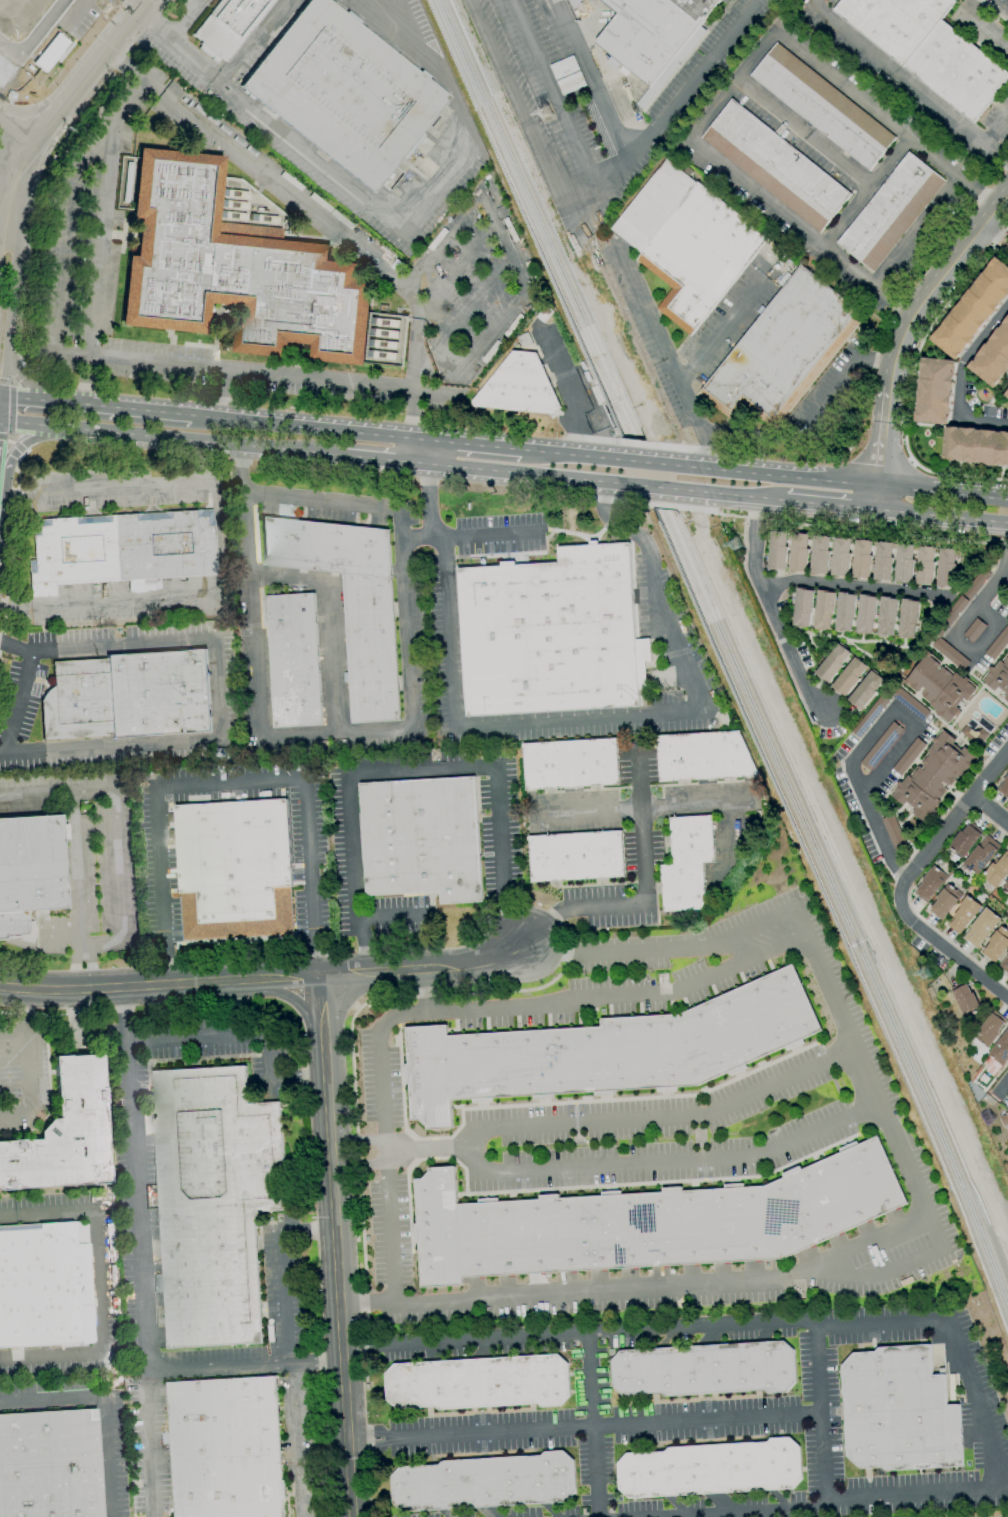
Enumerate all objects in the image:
building: (561, 0)
road: (1007, 0)
building: (571, 3)
road: (140, 4)
road: (992, 11)
road: (982, 23)
building: (230, 25)
road: (174, 32)
building: (651, 33)
road: (50, 34)
road: (251, 40)
building: (928, 49)
road: (12, 57)
road: (94, 70)
road: (591, 81)
road: (911, 83)
road: (733, 87)
building: (344, 92)
railway: (486, 94)
railway: (475, 96)
road: (556, 98)
road: (519, 105)
power tower: (545, 106)
building: (823, 107)
road: (667, 113)
road: (886, 120)
road: (18, 130)
road: (207, 132)
road: (804, 133)
road: (995, 152)
road: (43, 166)
building: (775, 166)
road: (13, 183)
road: (6, 187)
road: (865, 192)
road: (395, 208)
building: (890, 212)
road: (449, 228)
road: (801, 229)
road: (915, 232)
road: (994, 238)
road: (4, 239)
building: (687, 243)
road: (507, 250)
road: (457, 268)
building: (234, 270)
road: (936, 283)
road: (475, 296)
road: (422, 305)
building: (972, 310)
road: (11, 314)
building: (543, 314)
road: (495, 326)
building: (385, 330)
road: (717, 332)
building: (524, 340)
road: (443, 347)
building: (782, 350)
road: (966, 355)
building: (992, 357)
road: (667, 359)
road: (249, 370)
road: (911, 379)
road: (22, 380)
road: (5, 382)
building: (519, 387)
building: (935, 391)
road: (570, 393)
building: (1007, 395)
road: (1, 396)
traffic signals: (2, 397)
road: (992, 397)
road: (102, 407)
road: (1, 409)
road: (12, 410)
road: (807, 417)
road: (984, 421)
traffic signals: (0, 422)
road: (310, 427)
road: (880, 435)
road: (5, 437)
road: (155, 439)
road: (468, 443)
road: (21, 446)
building: (976, 446)
road: (574, 454)
railway: (646, 455)
railway: (635, 459)
road: (366, 461)
road: (643, 462)
road: (530, 475)
road: (832, 481)
road: (201, 483)
road: (423, 486)
road: (654, 487)
road: (726, 494)
road: (873, 497)
road: (626, 501)
road: (828, 504)
road: (662, 505)
road: (940, 515)
road: (841, 529)
road: (481, 534)
road: (416, 535)
power tower: (733, 537)
road: (9, 539)
building: (121, 548)
building: (777, 550)
building: (798, 552)
building: (819, 554)
building: (840, 557)
building: (862, 559)
building: (883, 561)
building: (904, 563)
building: (925, 565)
building: (946, 567)
building: (976, 583)
road: (854, 586)
road: (987, 592)
building: (1007, 597)
building: (350, 601)
road: (102, 604)
building: (802, 607)
road: (769, 609)
building: (823, 609)
building: (844, 611)
building: (866, 613)
building: (949, 615)
building: (887, 616)
road: (407, 618)
building: (908, 618)
road: (327, 622)
building: (974, 630)
building: (551, 634)
building: (998, 643)
road: (15, 648)
building: (949, 654)
building: (294, 661)
building: (832, 663)
road: (255, 668)
building: (998, 676)
building: (849, 677)
building: (939, 687)
building: (865, 690)
building: (128, 696)
building: (910, 703)
road: (16, 705)
road: (218, 712)
building: (871, 714)
road: (610, 716)
road: (906, 721)
building: (974, 734)
building: (881, 746)
road: (0, 755)
building: (703, 756)
building: (908, 757)
building: (570, 764)
road: (410, 769)
building: (933, 775)
road: (226, 783)
building: (1003, 787)
road: (35, 794)
road: (698, 800)
road: (990, 810)
road: (954, 819)
road: (874, 823)
building: (893, 832)
building: (421, 838)
building: (965, 839)
building: (981, 855)
building: (576, 856)
parking lot: (85, 858)
building: (686, 863)
road: (645, 867)
building: (234, 870)
building: (997, 870)
building: (29, 872)
building: (930, 884)
building: (1005, 887)
building: (945, 902)
building: (963, 914)
road: (387, 916)
building: (981, 927)
road: (60, 936)
road: (118, 940)
building: (996, 945)
road: (943, 947)
road: (735, 950)
road: (89, 963)
building: (1004, 964)
road: (74, 965)
road: (448, 966)
power tower: (927, 968)
road: (344, 973)
road: (13, 984)
road: (159, 984)
road: (13, 989)
road: (422, 989)
building: (965, 999)
road: (459, 1006)
railway: (888, 1008)
railway: (885, 1023)
road: (11, 1025)
building: (988, 1030)
road: (241, 1034)
building: (1000, 1050)
building: (607, 1051)
road: (25, 1063)
road: (1003, 1086)
building: (1004, 1118)
building: (64, 1134)
road: (428, 1152)
road: (469, 1161)
road: (911, 1182)
building: (213, 1202)
building: (648, 1222)
road: (307, 1231)
road: (335, 1246)
road: (139, 1251)
road: (899, 1265)
road: (102, 1284)
building: (38, 1285)
road: (368, 1303)
road: (697, 1326)
road: (480, 1339)
road: (244, 1366)
building: (705, 1369)
road: (293, 1374)
building: (479, 1383)
road: (106, 1403)
building: (898, 1411)
road: (591, 1424)
road: (980, 1424)
road: (582, 1426)
building: (225, 1448)
building: (50, 1464)
building: (711, 1469)
building: (484, 1483)
road: (821, 1483)

